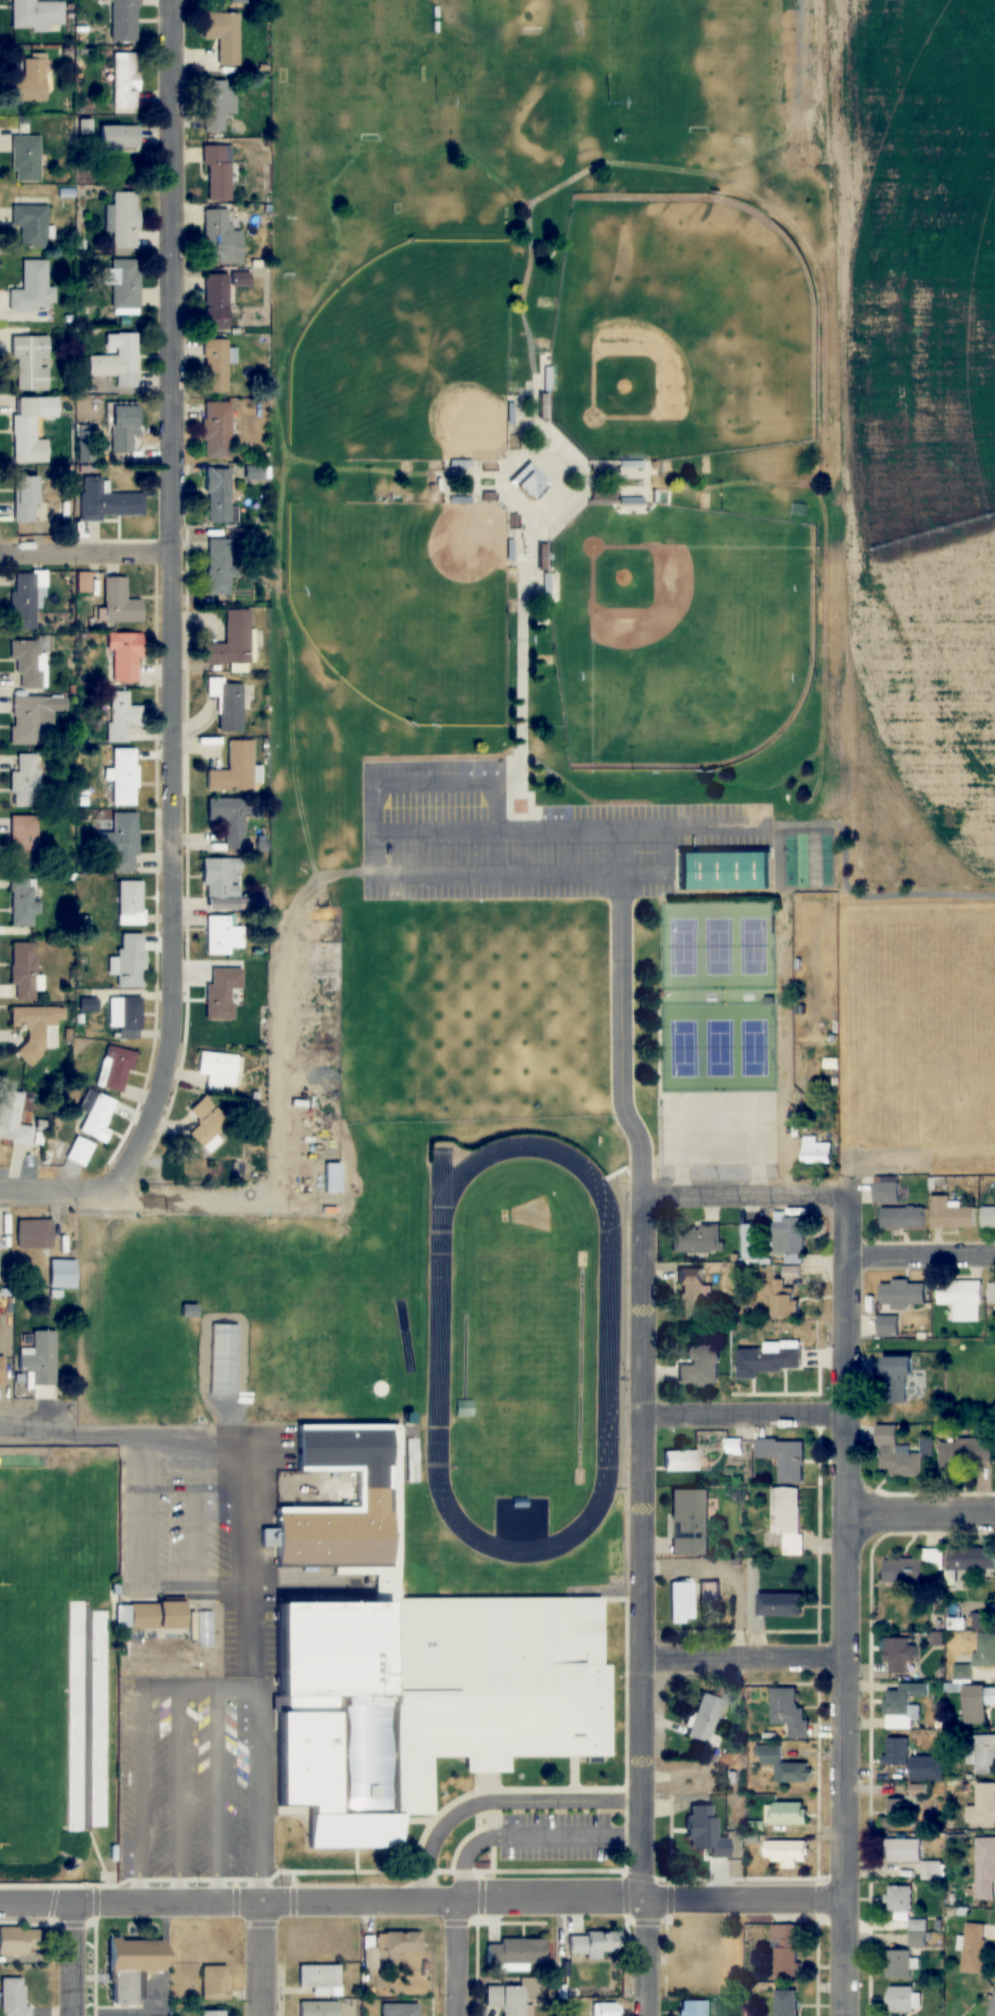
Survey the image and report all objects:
building: (233, 2)
building: (35, 15)
building: (122, 18)
building: (222, 32)
park: (348, 44)
park: (525, 67)
park: (686, 68)
building: (28, 77)
building: (122, 79)
building: (216, 102)
building: (84, 122)
building: (116, 132)
road: (448, 155)
building: (26, 159)
building: (216, 173)
building: (125, 219)
building: (31, 225)
building: (221, 239)
building: (125, 287)
building: (33, 288)
road: (528, 288)
building: (219, 297)
park: (680, 331)
park: (411, 358)
building: (29, 360)
building: (118, 362)
building: (215, 366)
crop: (920, 421)
building: (30, 428)
building: (123, 429)
building: (217, 429)
building: (254, 474)
building: (528, 481)
road: (557, 482)
building: (219, 497)
building: (25, 498)
building: (108, 501)
road: (827, 544)
road: (86, 556)
building: (218, 567)
road: (528, 582)
building: (26, 599)
building: (119, 603)
park: (408, 603)
road: (172, 608)
park: (680, 632)
building: (231, 641)
building: (124, 657)
building: (29, 665)
building: (227, 705)
building: (122, 716)
building: (33, 717)
building: (233, 770)
road: (557, 773)
building: (124, 777)
building: (25, 782)
road: (300, 788)
building: (230, 821)
building: (24, 838)
parking lot: (524, 839)
building: (123, 841)
road: (846, 845)
building: (722, 871)
building: (218, 879)
building: (130, 899)
building: (23, 902)
building: (224, 904)
building: (222, 935)
park: (720, 945)
park: (754, 945)
park: (686, 946)
building: (129, 961)
building: (24, 971)
building: (222, 992)
park: (407, 1012)
park: (529, 1012)
building: (126, 1017)
park: (925, 1019)
building: (37, 1028)
park: (721, 1047)
park: (755, 1047)
park: (687, 1048)
road: (626, 1051)
building: (220, 1068)
building: (115, 1069)
building: (97, 1119)
building: (13, 1120)
building: (206, 1125)
parking lot: (723, 1128)
building: (818, 1148)
building: (79, 1152)
building: (331, 1177)
building: (886, 1193)
road: (746, 1195)
road: (103, 1201)
building: (951, 1214)
building: (988, 1217)
building: (902, 1218)
building: (34, 1234)
building: (696, 1238)
building: (788, 1238)
building: (752, 1243)
road: (921, 1256)
building: (62, 1274)
building: (991, 1293)
building: (693, 1294)
building: (902, 1294)
building: (782, 1299)
building: (960, 1299)
building: (888, 1325)
track: (441, 1346)
building: (40, 1358)
building: (768, 1359)
building: (700, 1366)
building: (2, 1370)
building: (896, 1377)
road: (747, 1416)
road: (98, 1435)
building: (963, 1453)
building: (896, 1455)
building: (784, 1457)
building: (679, 1460)
road: (197, 1512)
road: (921, 1514)
building: (787, 1517)
building: (689, 1521)
building: (971, 1558)
road: (142, 1568)
building: (914, 1568)
road: (848, 1587)
building: (708, 1593)
building: (681, 1602)
building: (779, 1605)
road: (649, 1609)
building: (147, 1615)
building: (206, 1629)
parking lot: (245, 1629)
road: (255, 1650)
building: (984, 1650)
road: (750, 1655)
building: (901, 1655)
building: (164, 1662)
building: (407, 1665)
building: (977, 1704)
building: (903, 1705)
building: (788, 1712)
building: (703, 1718)
road: (139, 1720)
park: (33, 1722)
building: (897, 1751)
building: (984, 1754)
building: (785, 1766)
building: (922, 1768)
road: (218, 1777)
road: (179, 1779)
road: (504, 1801)
building: (982, 1805)
building: (786, 1813)
building: (898, 1813)
building: (705, 1832)
road: (533, 1837)
parking lot: (559, 1837)
building: (902, 1850)
building: (785, 1852)
building: (984, 1868)
building: (932, 1871)
road: (421, 1898)
building: (899, 1901)
building: (918, 1933)
building: (17, 1940)
building: (401, 1941)
building: (595, 1944)
building: (973, 1948)
building: (514, 1951)
building: (785, 1951)
road: (73, 1957)
road: (265, 1957)
building: (370, 1957)
road: (458, 1957)
building: (899, 1964)
building: (130, 1965)
building: (318, 1977)
building: (214, 1982)
building: (12, 1997)
building: (504, 1999)
building: (900, 1999)
building: (785, 2002)
building: (992, 2007)
building: (318, 2008)
building: (693, 2008)
building: (397, 2009)
building: (604, 2009)
building: (212, 2013)

